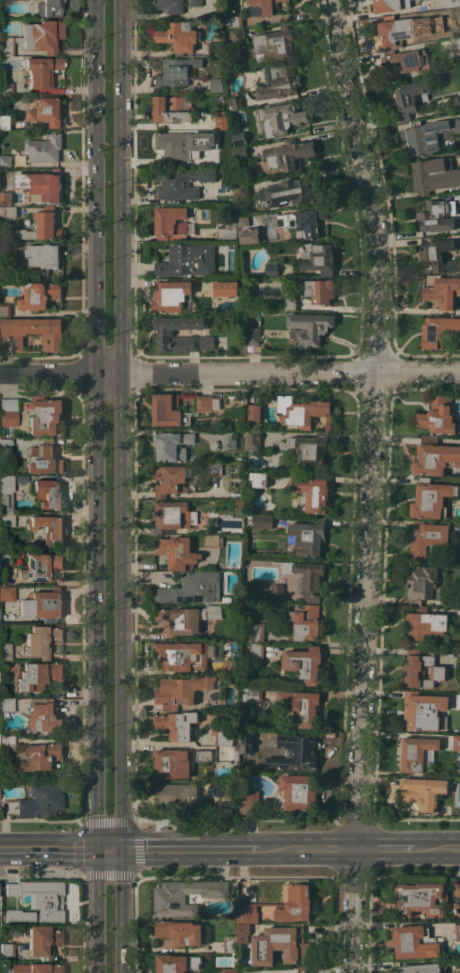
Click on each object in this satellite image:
building: (195, 3)
building: (452, 4)
building: (170, 5)
building: (392, 5)
building: (263, 7)
building: (48, 8)
building: (234, 21)
building: (426, 21)
building: (396, 31)
building: (236, 34)
building: (179, 36)
building: (35, 38)
building: (456, 42)
building: (274, 44)
building: (215, 48)
building: (405, 62)
building: (40, 71)
building: (177, 71)
building: (278, 82)
building: (216, 85)
building: (6, 89)
building: (410, 98)
building: (236, 102)
building: (455, 102)
building: (170, 109)
building: (47, 111)
building: (279, 118)
building: (221, 119)
building: (5, 122)
building: (428, 135)
building: (238, 138)
building: (211, 142)
building: (177, 148)
building: (44, 149)
building: (238, 152)
building: (288, 154)
building: (6, 160)
building: (434, 174)
building: (181, 181)
building: (41, 185)
building: (241, 190)
building: (289, 191)
building: (10, 198)
building: (10, 211)
building: (437, 216)
building: (243, 220)
building: (170, 221)
building: (302, 223)
building: (41, 225)
building: (226, 231)
building: (249, 235)
building: (437, 255)
building: (43, 257)
building: (318, 258)
building: (188, 260)
building: (271, 270)
building: (226, 288)
building: (318, 289)
building: (443, 291)
building: (39, 295)
building: (173, 296)
building: (290, 303)
building: (5, 309)
building: (308, 327)
building: (437, 330)
building: (33, 331)
building: (165, 334)
building: (253, 335)
road: (230, 372)
building: (204, 403)
building: (168, 410)
building: (303, 411)
building: (254, 412)
building: (8, 413)
building: (45, 415)
building: (437, 415)
road: (372, 423)
road: (97, 425)
road: (122, 425)
building: (229, 439)
building: (253, 439)
building: (173, 445)
building: (5, 447)
building: (310, 450)
building: (434, 457)
building: (43, 459)
building: (214, 469)
building: (170, 479)
building: (259, 479)
building: (6, 493)
building: (47, 494)
building: (310, 494)
building: (432, 499)
building: (174, 514)
building: (7, 520)
building: (262, 521)
building: (48, 531)
building: (308, 536)
building: (428, 538)
building: (212, 541)
building: (178, 551)
building: (5, 560)
building: (221, 560)
building: (40, 568)
building: (308, 578)
building: (423, 584)
building: (192, 588)
building: (275, 592)
building: (7, 594)
building: (226, 600)
building: (42, 605)
building: (186, 619)
building: (306, 622)
building: (425, 624)
building: (257, 632)
building: (41, 640)
building: (5, 652)
building: (256, 652)
building: (183, 655)
building: (303, 663)
building: (421, 669)
building: (38, 676)
building: (181, 690)
building: (251, 694)
building: (6, 704)
building: (300, 707)
building: (425, 711)
building: (43, 716)
building: (178, 724)
building: (222, 736)
building: (247, 740)
building: (6, 742)
building: (456, 742)
building: (296, 752)
building: (419, 753)
building: (203, 755)
building: (42, 756)
building: (172, 763)
building: (422, 791)
building: (298, 792)
building: (178, 795)
building: (42, 800)
building: (248, 801)
building: (224, 808)
road: (385, 849)
road: (437, 849)
road: (194, 850)
road: (309, 850)
road: (50, 851)
traffic signals: (100, 851)
road: (112, 851)
traffic signals: (125, 851)
building: (457, 890)
building: (422, 898)
building: (169, 900)
building: (37, 902)
building: (280, 906)
road: (124, 911)
road: (351, 911)
road: (99, 912)
building: (457, 930)
building: (242, 931)
building: (179, 932)
building: (42, 941)
building: (417, 942)
building: (230, 944)
building: (280, 945)
road: (171, 949)
building: (6, 952)
building: (176, 963)
building: (36, 968)
building: (420, 968)
building: (302, 969)
building: (230, 970)
road: (329, 971)
road: (289, 972)
road: (303, 972)

